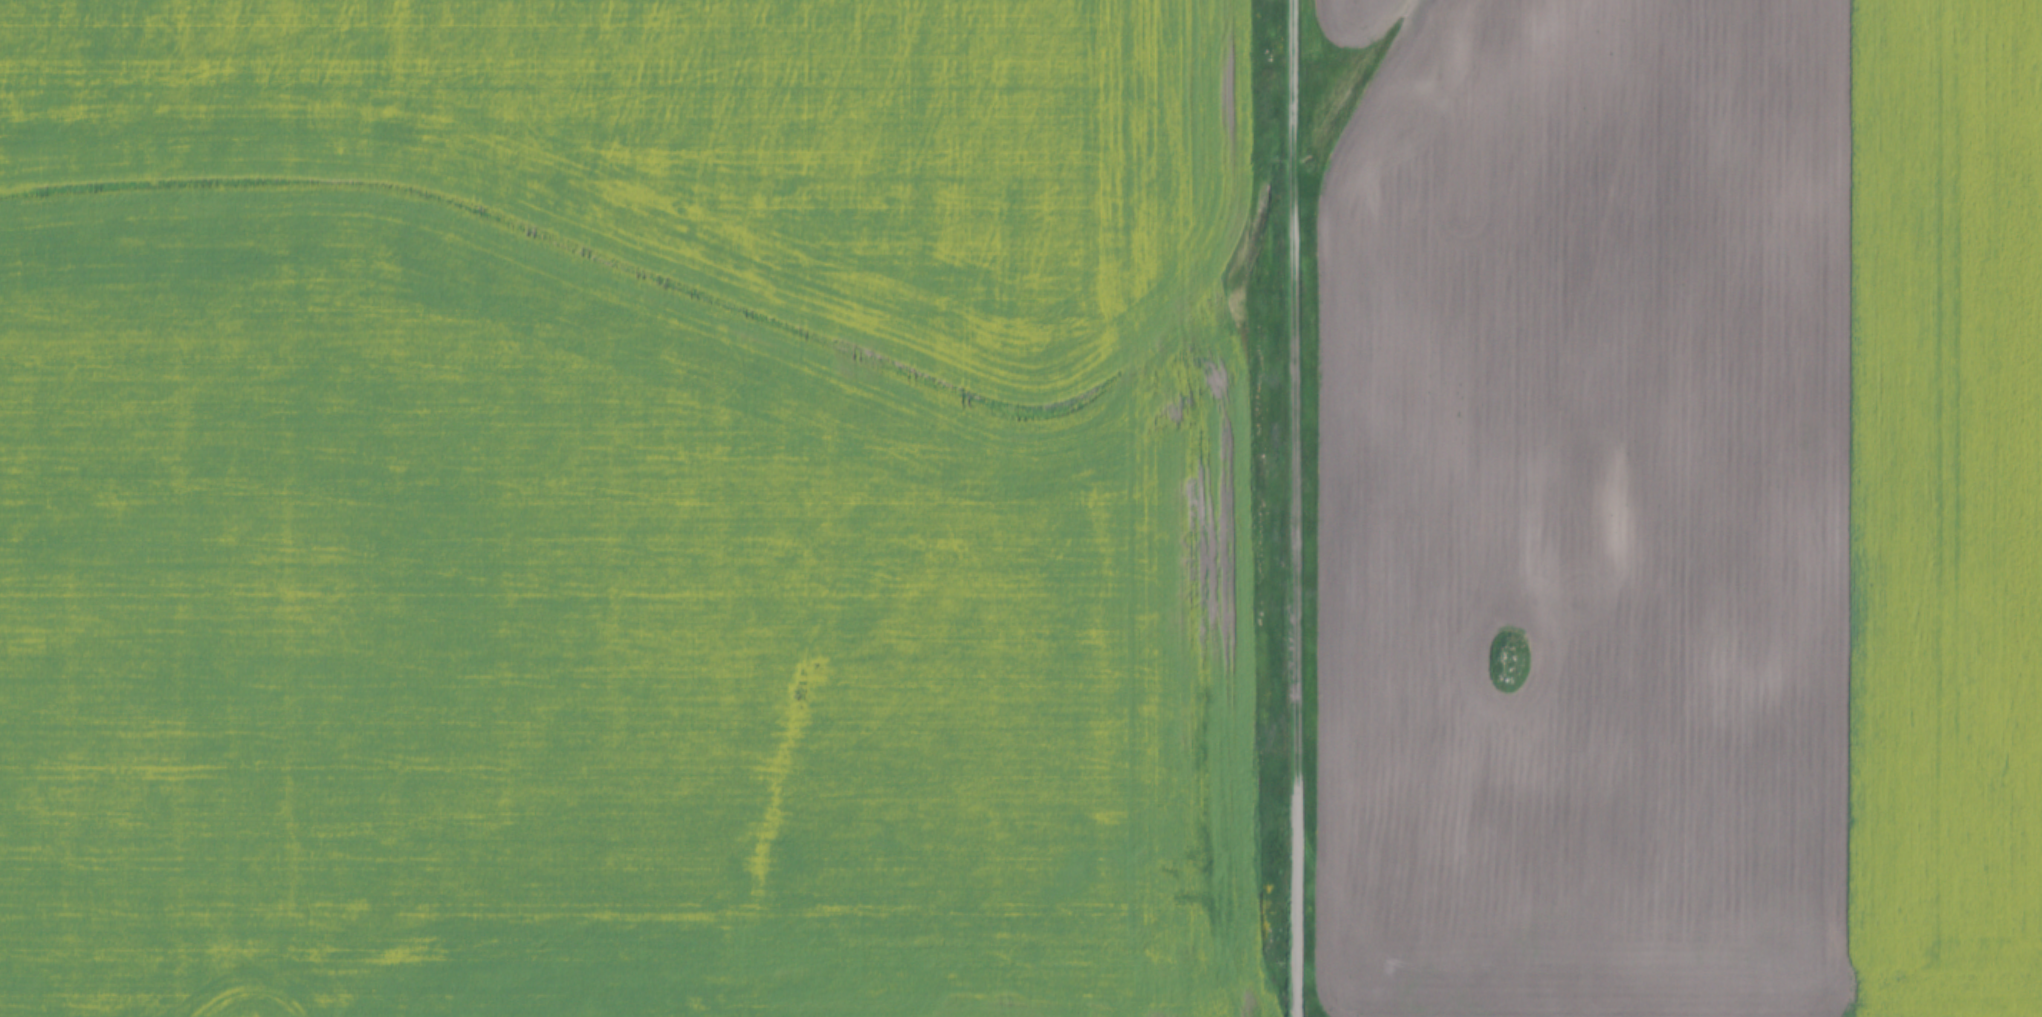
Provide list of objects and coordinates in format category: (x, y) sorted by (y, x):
road: (1296, 508)

